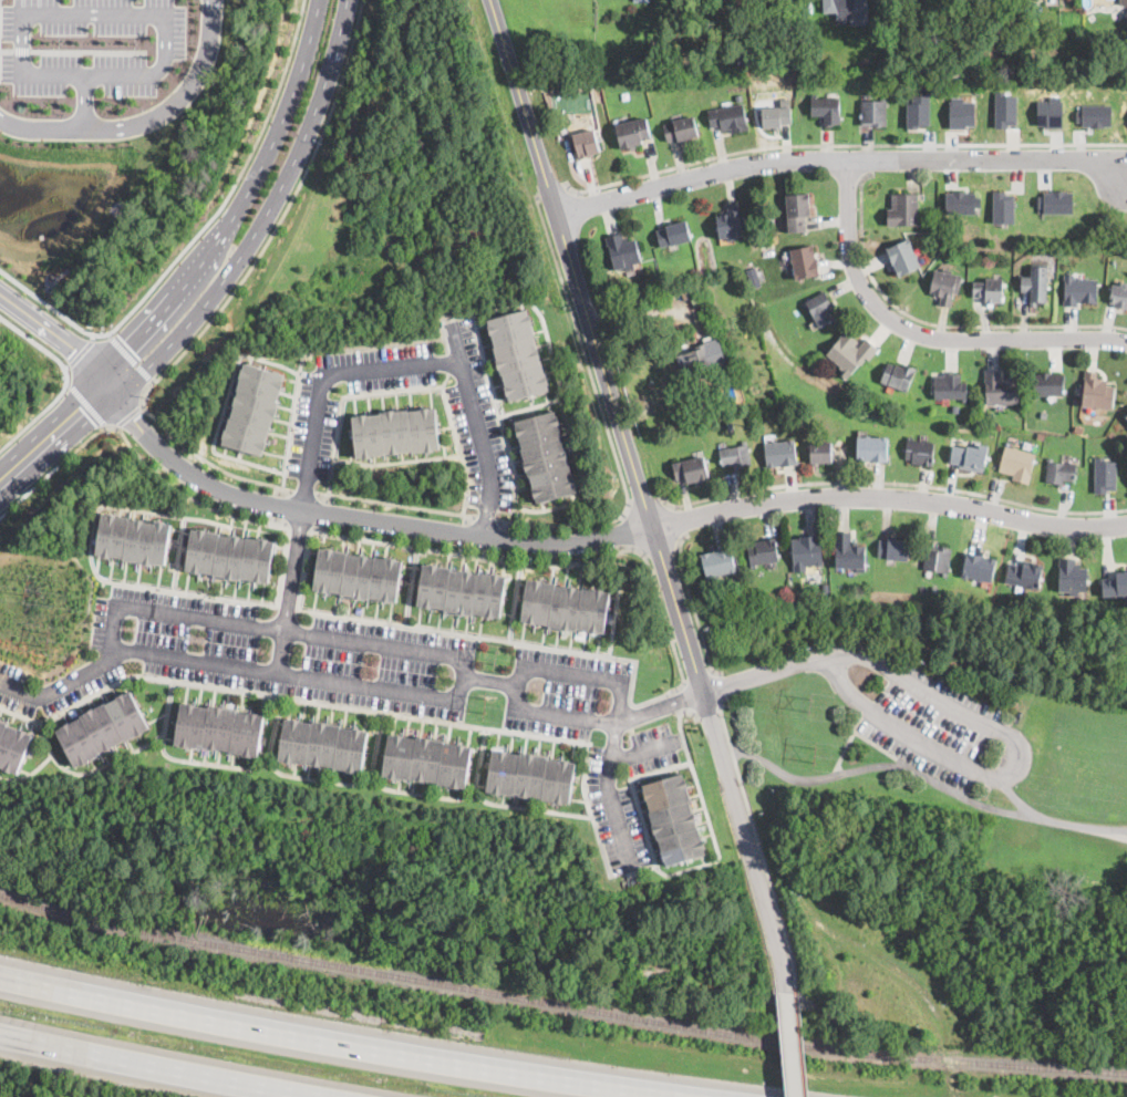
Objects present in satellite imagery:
building: (635, 0)
building: (989, 0)
building: (1123, 2)
building: (848, 10)
building: (938, 13)
road: (6, 49)
road: (20, 49)
road: (86, 49)
building: (1126, 51)
building: (980, 53)
building: (590, 55)
building: (746, 55)
building: (994, 59)
road: (157, 66)
building: (740, 96)
road: (83, 101)
road: (271, 103)
building: (1004, 107)
building: (826, 108)
building: (918, 108)
building: (961, 111)
building: (1048, 111)
building: (873, 112)
building: (1093, 113)
building: (776, 116)
road: (144, 118)
building: (728, 118)
building: (1126, 120)
building: (680, 130)
building: (632, 133)
building: (586, 143)
road: (839, 143)
road: (842, 158)
road: (864, 159)
road: (552, 193)
building: (959, 200)
building: (1055, 201)
road: (232, 203)
building: (1003, 206)
building: (903, 210)
building: (797, 211)
road: (261, 214)
building: (731, 222)
building: (673, 234)
building: (622, 251)
building: (902, 257)
building: (804, 262)
building: (753, 276)
building: (944, 287)
building: (671, 289)
building: (1035, 289)
building: (989, 290)
building: (1079, 290)
road: (232, 291)
building: (685, 293)
building: (1119, 296)
building: (819, 308)
road: (124, 315)
road: (934, 325)
road: (920, 332)
road: (56, 335)
road: (91, 335)
traffic signals: (127, 343)
road: (455, 343)
traffic signals: (74, 348)
road: (79, 351)
road: (303, 351)
building: (697, 352)
building: (517, 353)
building: (850, 353)
road: (130, 355)
road: (65, 365)
road: (412, 366)
building: (898, 376)
road: (64, 380)
building: (1047, 384)
building: (949, 386)
road: (409, 387)
building: (1001, 389)
building: (1096, 392)
road: (85, 402)
building: (707, 404)
building: (252, 407)
traffic signals: (81, 408)
building: (1043, 413)
road: (127, 414)
road: (603, 415)
traffic signals: (135, 416)
building: (1126, 416)
building: (730, 425)
building: (395, 431)
road: (54, 432)
building: (872, 448)
building: (821, 452)
building: (920, 452)
building: (780, 453)
building: (546, 456)
building: (735, 456)
building: (969, 457)
building: (1017, 464)
building: (691, 469)
building: (1058, 472)
building: (1105, 474)
road: (891, 480)
road: (302, 490)
road: (642, 496)
road: (889, 496)
road: (394, 504)
road: (280, 506)
road: (645, 506)
road: (236, 515)
road: (358, 516)
road: (676, 519)
road: (485, 521)
road: (628, 529)
building: (131, 539)
building: (893, 549)
building: (762, 552)
building: (806, 552)
building: (849, 552)
building: (227, 556)
road: (293, 556)
building: (938, 559)
building: (717, 563)
building: (979, 568)
building: (355, 575)
building: (1024, 575)
building: (1072, 577)
power tower: (27, 584)
building: (1115, 584)
building: (934, 588)
building: (458, 590)
road: (691, 602)
building: (565, 606)
road: (170, 611)
road: (285, 615)
power tower: (45, 633)
road: (669, 633)
road: (384, 642)
road: (279, 652)
power tower: (494, 654)
road: (582, 672)
road: (759, 674)
road: (324, 683)
road: (718, 683)
road: (687, 696)
road: (684, 697)
power tower: (808, 701)
power tower: (485, 703)
road: (645, 711)
road: (689, 711)
road: (722, 720)
parking lot: (974, 721)
parking lot: (932, 723)
building: (102, 727)
building: (219, 727)
power tower: (1009, 733)
road: (682, 736)
road: (869, 741)
building: (323, 743)
building: (12, 746)
road: (642, 751)
power tower: (813, 753)
building: (426, 758)
road: (1014, 762)
building: (530, 774)
road: (927, 776)
road: (609, 794)
road: (1015, 798)
building: (673, 818)
road: (1125, 830)
park: (945, 839)
road: (766, 868)
road: (348, 1043)
road: (800, 1044)
road: (789, 1045)
road: (163, 1066)

